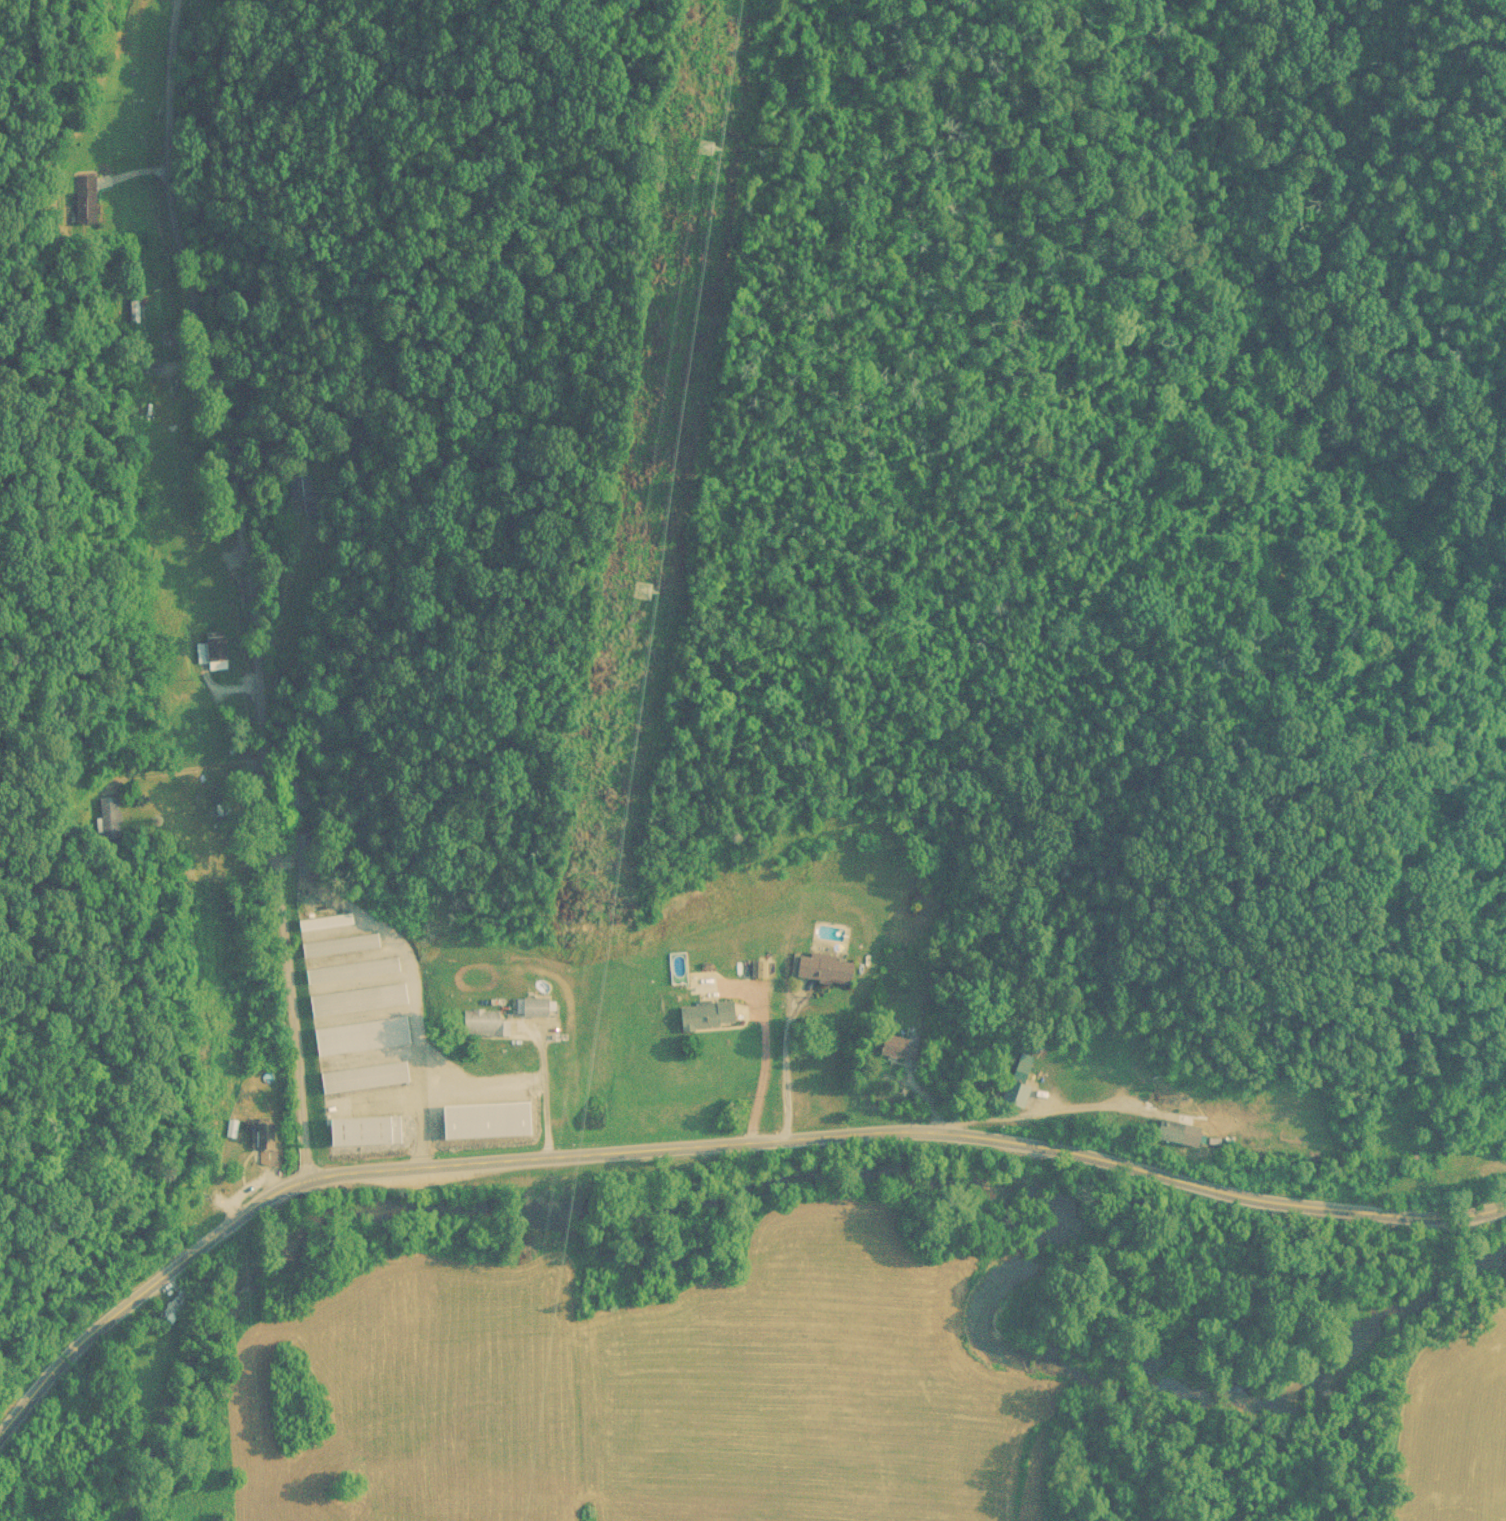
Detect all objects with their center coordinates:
power tower: (708, 150)
building: (301, 500)
road: (195, 570)
road: (266, 585)
power tower: (641, 595)
building: (212, 650)
building: (289, 795)
building: (106, 807)
building: (300, 854)
building: (920, 894)
building: (326, 922)
building: (341, 945)
building: (829, 968)
building: (353, 971)
building: (357, 1000)
building: (539, 1007)
building: (710, 1015)
building: (361, 1036)
building: (902, 1045)
building: (365, 1077)
building: (491, 1120)
building: (364, 1130)
building: (262, 1133)
road: (708, 1141)
building: (170, 1309)

